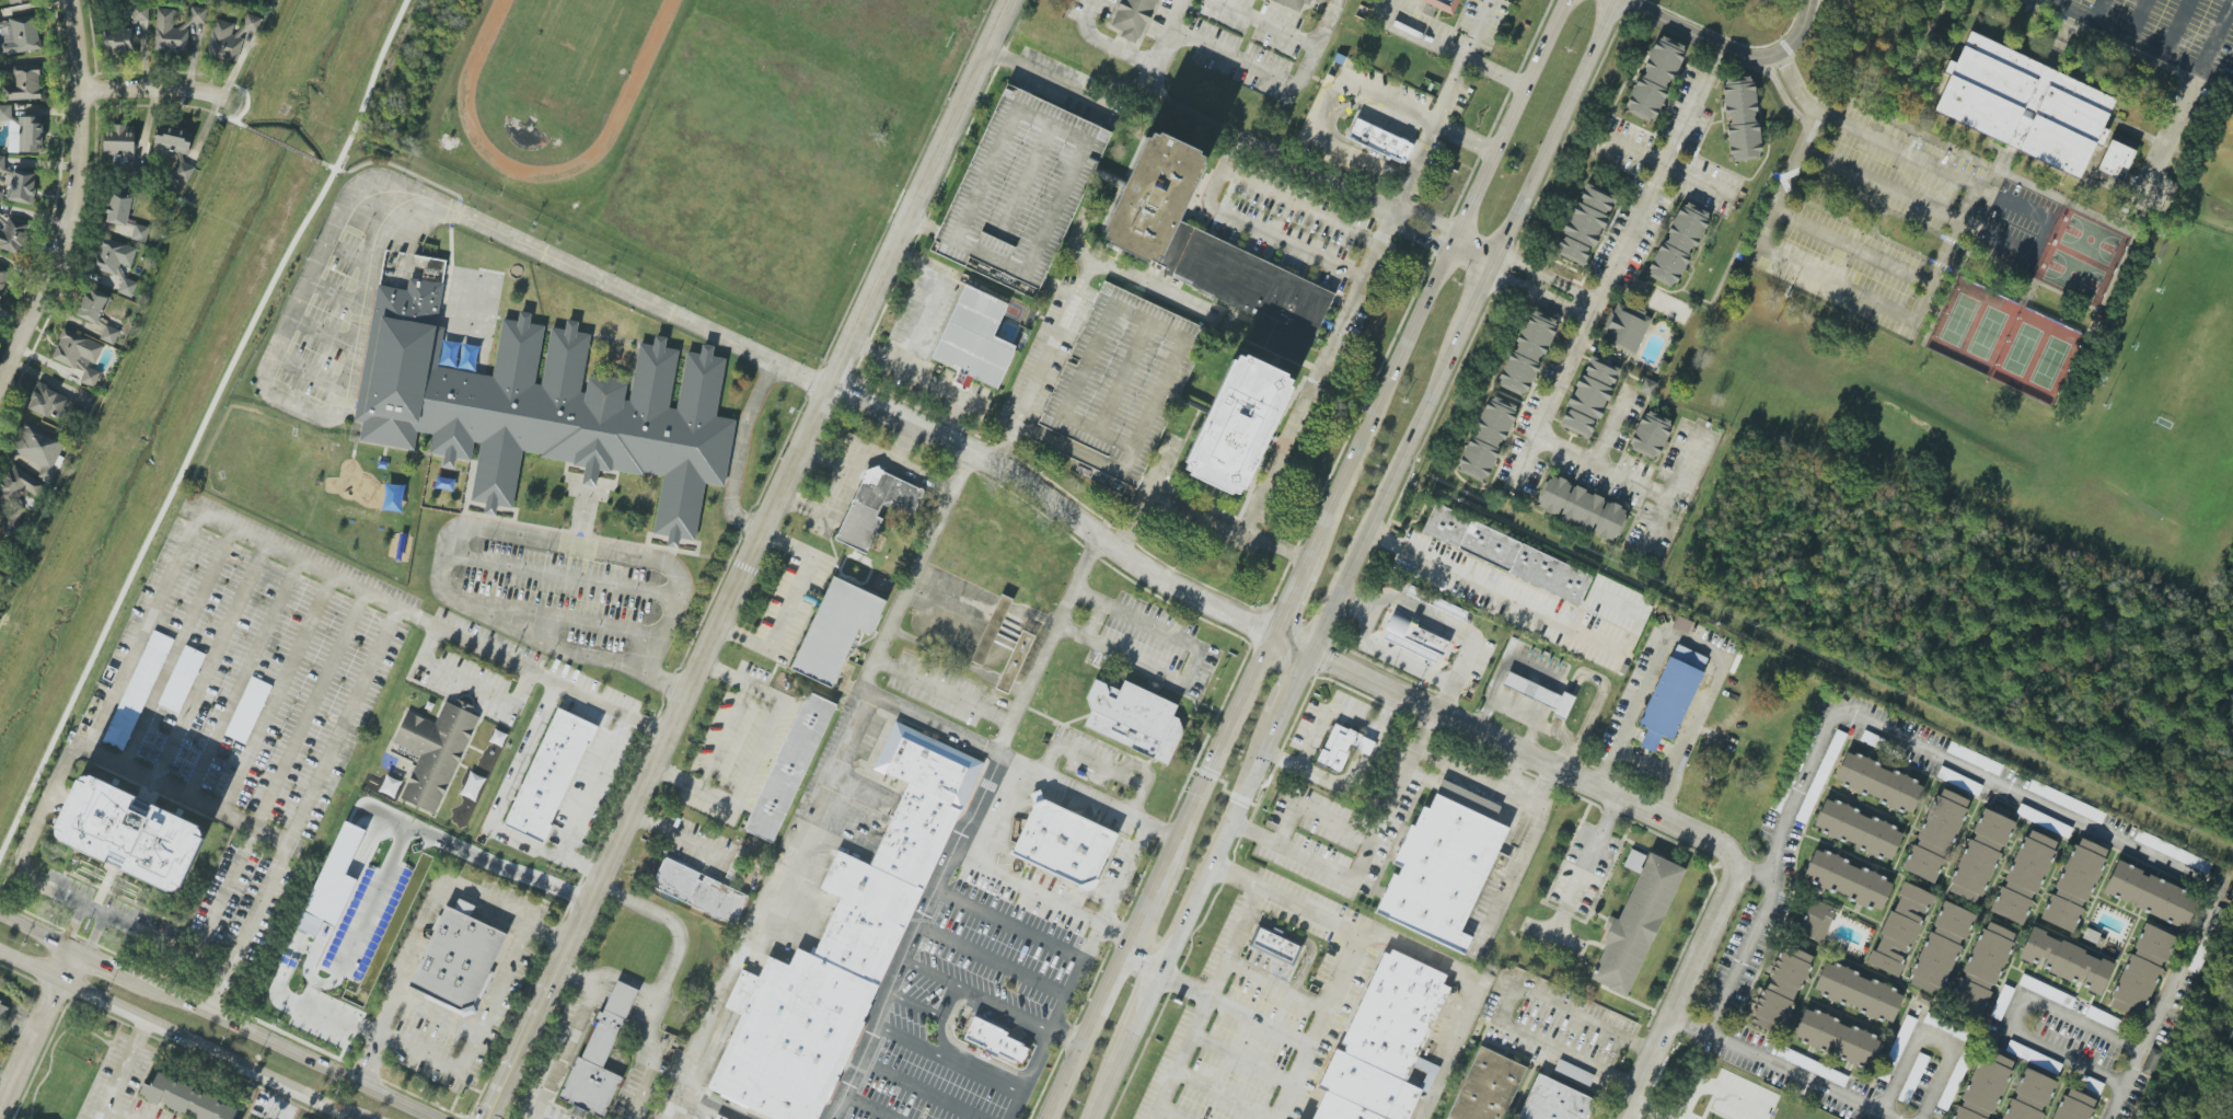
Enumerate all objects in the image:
building: (14, 1)
building: (1294, 2)
building: (1443, 4)
road: (2099, 9)
building: (198, 14)
road: (2138, 16)
building: (1132, 19)
building: (251, 23)
road: (2177, 25)
road: (1479, 27)
park: (870, 31)
parking lot: (2166, 31)
road: (1171, 32)
road: (1416, 32)
building: (170, 33)
road: (2217, 34)
building: (20, 35)
road: (1285, 36)
building: (118, 39)
road: (1732, 39)
building: (223, 41)
road: (2147, 42)
road: (1107, 43)
road: (1724, 47)
road: (1463, 58)
road: (238, 64)
road: (1253, 65)
building: (1654, 78)
road: (1158, 81)
building: (24, 83)
road: (159, 88)
track: (627, 95)
road: (1793, 97)
road: (247, 99)
road: (1324, 102)
building: (2023, 104)
road: (2232, 106)
road: (1413, 112)
building: (5, 113)
road: (221, 116)
road: (1722, 116)
building: (1740, 118)
road: (1716, 120)
road: (1222, 130)
building: (24, 135)
road: (1426, 136)
building: (172, 140)
building: (1379, 141)
building: (120, 143)
road: (282, 145)
building: (2115, 160)
building: (1, 163)
road: (1668, 165)
road: (396, 168)
road: (1388, 170)
road: (1728, 170)
building: (183, 171)
road: (417, 181)
building: (22, 187)
building: (1020, 191)
parking garage: (1020, 191)
road: (74, 203)
road: (1299, 204)
building: (0, 205)
building: (124, 216)
parking lot: (1894, 221)
road: (1250, 222)
road: (1971, 223)
building: (1583, 224)
road: (1871, 227)
road: (408, 233)
building: (12, 235)
building: (1677, 243)
road: (1474, 251)
building: (1210, 252)
road: (348, 254)
park: (2080, 255)
building: (113, 256)
road: (1616, 264)
building: (3, 278)
road: (1923, 278)
road: (1544, 286)
road: (1836, 286)
building: (127, 287)
road: (626, 291)
road: (336, 293)
building: (92, 305)
road: (1069, 307)
parking lot: (324, 322)
road: (921, 324)
building: (1624, 326)
building: (109, 334)
road: (323, 334)
building: (974, 339)
park: (2001, 341)
building: (1526, 351)
building: (78, 355)
river: (172, 369)
road: (1317, 371)
road: (310, 373)
road: (927, 379)
building: (1118, 381)
parking garage: (1118, 381)
building: (1647, 388)
building: (1588, 396)
building: (83, 400)
park: (2174, 400)
road: (284, 401)
building: (48, 402)
building: (544, 404)
road: (203, 425)
building: (1237, 425)
road: (1610, 427)
building: (1485, 435)
building: (1648, 435)
building: (39, 448)
road: (738, 454)
road: (895, 460)
road: (845, 484)
road: (1636, 487)
building: (16, 494)
road: (1054, 501)
road: (1194, 505)
building: (875, 507)
building: (1581, 508)
road: (805, 510)
road: (1656, 526)
road: (454, 529)
building: (1506, 554)
road: (1304, 558)
road: (751, 559)
road: (1354, 559)
road: (559, 577)
road: (1492, 590)
road: (1358, 601)
road: (1385, 602)
road: (790, 604)
road: (1298, 607)
building: (1445, 607)
road: (560, 623)
building: (1681, 624)
road: (432, 625)
building: (835, 630)
building: (995, 632)
road: (141, 633)
building: (1414, 639)
road: (1694, 644)
road: (174, 649)
building: (1015, 662)
road: (1191, 665)
road: (210, 666)
road: (1281, 677)
building: (181, 679)
road: (242, 680)
road: (470, 683)
road: (930, 687)
building: (138, 690)
building: (1539, 694)
building: (1670, 695)
road: (276, 696)
parking lot: (246, 699)
road: (1450, 699)
building: (247, 711)
road: (1326, 716)
building: (1133, 719)
road: (1476, 728)
road: (725, 737)
road: (1003, 740)
building: (1337, 749)
road: (757, 751)
building: (433, 753)
building: (1975, 759)
building: (1826, 763)
building: (789, 766)
road: (1013, 766)
road: (1107, 769)
road: (1084, 771)
road: (278, 775)
building: (548, 775)
road: (1130, 776)
road: (1349, 778)
building: (1877, 782)
building: (472, 786)
road: (591, 786)
road: (1522, 792)
road: (185, 798)
building: (2066, 801)
road: (1794, 804)
road: (497, 811)
road: (1314, 811)
road: (302, 812)
building: (1856, 829)
building: (128, 833)
building: (1934, 835)
road: (678, 837)
building: (1063, 843)
building: (1980, 854)
road: (1364, 855)
road: (2142, 856)
building: (1444, 857)
road: (1586, 862)
road: (394, 863)
road: (1515, 869)
road: (1122, 874)
building: (2023, 877)
building: (1847, 879)
building: (2074, 885)
building: (699, 891)
building: (2150, 893)
road: (57, 896)
road: (1040, 896)
road: (763, 903)
road: (423, 920)
building: (1635, 921)
building: (1816, 921)
road: (1007, 923)
road: (671, 925)
road: (72, 927)
building: (1899, 930)
road: (91, 937)
road: (910, 938)
building: (847, 939)
road: (1705, 939)
building: (1271, 946)
building: (1941, 948)
road: (1353, 950)
parking lot: (993, 955)
road: (1743, 955)
road: (1144, 958)
building: (455, 959)
road: (990, 960)
building: (2064, 960)
building: (1982, 969)
building: (2141, 970)
road: (1072, 976)
road: (1276, 985)
building: (1780, 989)
road: (1478, 992)
building: (1856, 992)
road: (973, 995)
road: (1207, 1003)
road: (1236, 1003)
road: (914, 1005)
road: (1508, 1005)
building: (3, 1010)
road: (649, 1012)
building: (1396, 1013)
road: (2015, 1015)
road: (212, 1017)
road: (433, 1018)
road: (942, 1020)
building: (1945, 1025)
road: (35, 1029)
road: (173, 1036)
road: (1065, 1036)
road: (472, 1038)
building: (1836, 1038)
road: (907, 1039)
road: (1930, 1041)
building: (996, 1042)
parking lot: (1224, 1042)
road: (564, 1047)
building: (600, 1053)
road: (1242, 1059)
road: (1037, 1061)
building: (2151, 1064)
road: (1778, 1068)
road: (119, 1070)
building: (1574, 1072)
road: (983, 1074)
building: (1368, 1086)
building: (1486, 1087)
building: (1983, 1087)
road: (1715, 1088)
road: (916, 1089)
road: (1227, 1093)
building: (2028, 1096)
building: (185, 1099)
building: (1553, 1101)
road: (867, 1105)
road: (1018, 1106)
building: (2073, 1106)
building: (1341, 1109)
road: (1651, 1110)
road: (120, 1111)
road: (1171, 1114)
building: (718, 1118)

